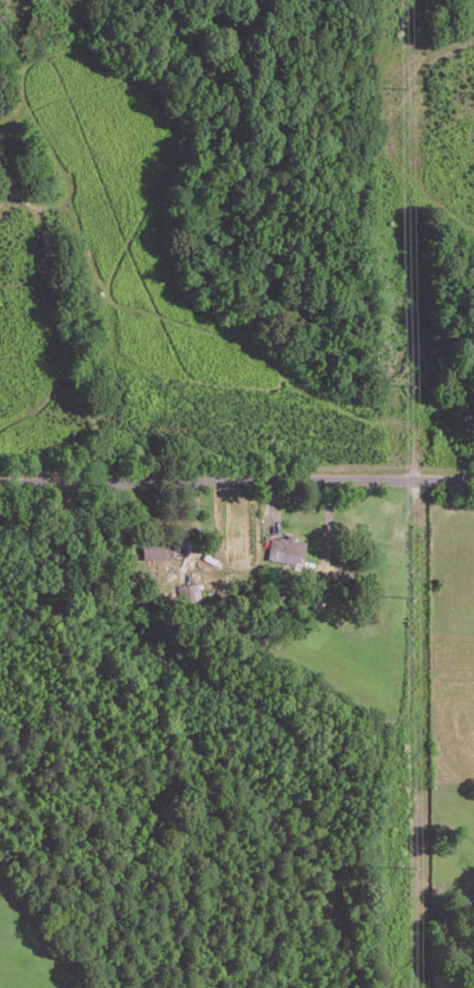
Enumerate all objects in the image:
power tower: (405, 83)
road: (236, 479)
building: (286, 549)
building: (157, 550)
building: (190, 592)
power tower: (411, 593)
power tower: (413, 866)

